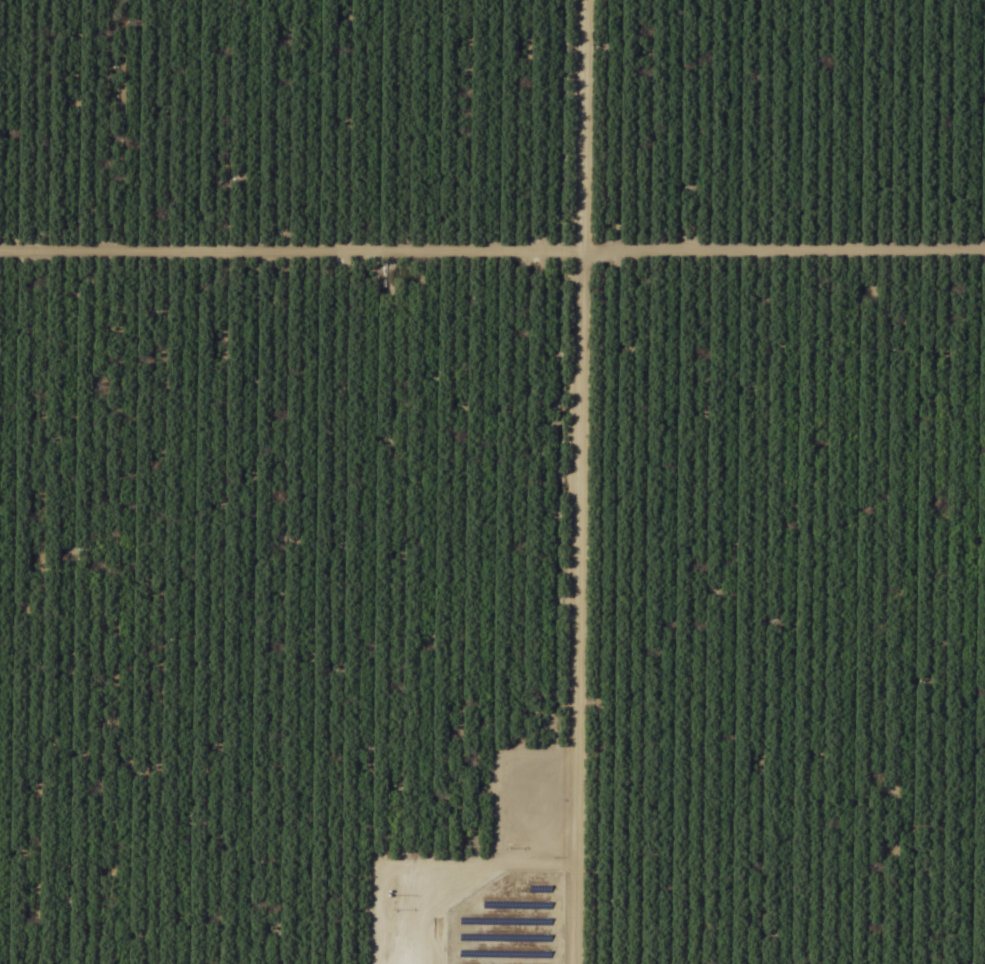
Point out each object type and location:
crop: (492, 482)
building: (526, 807)
road: (846, 900)
building: (527, 909)

